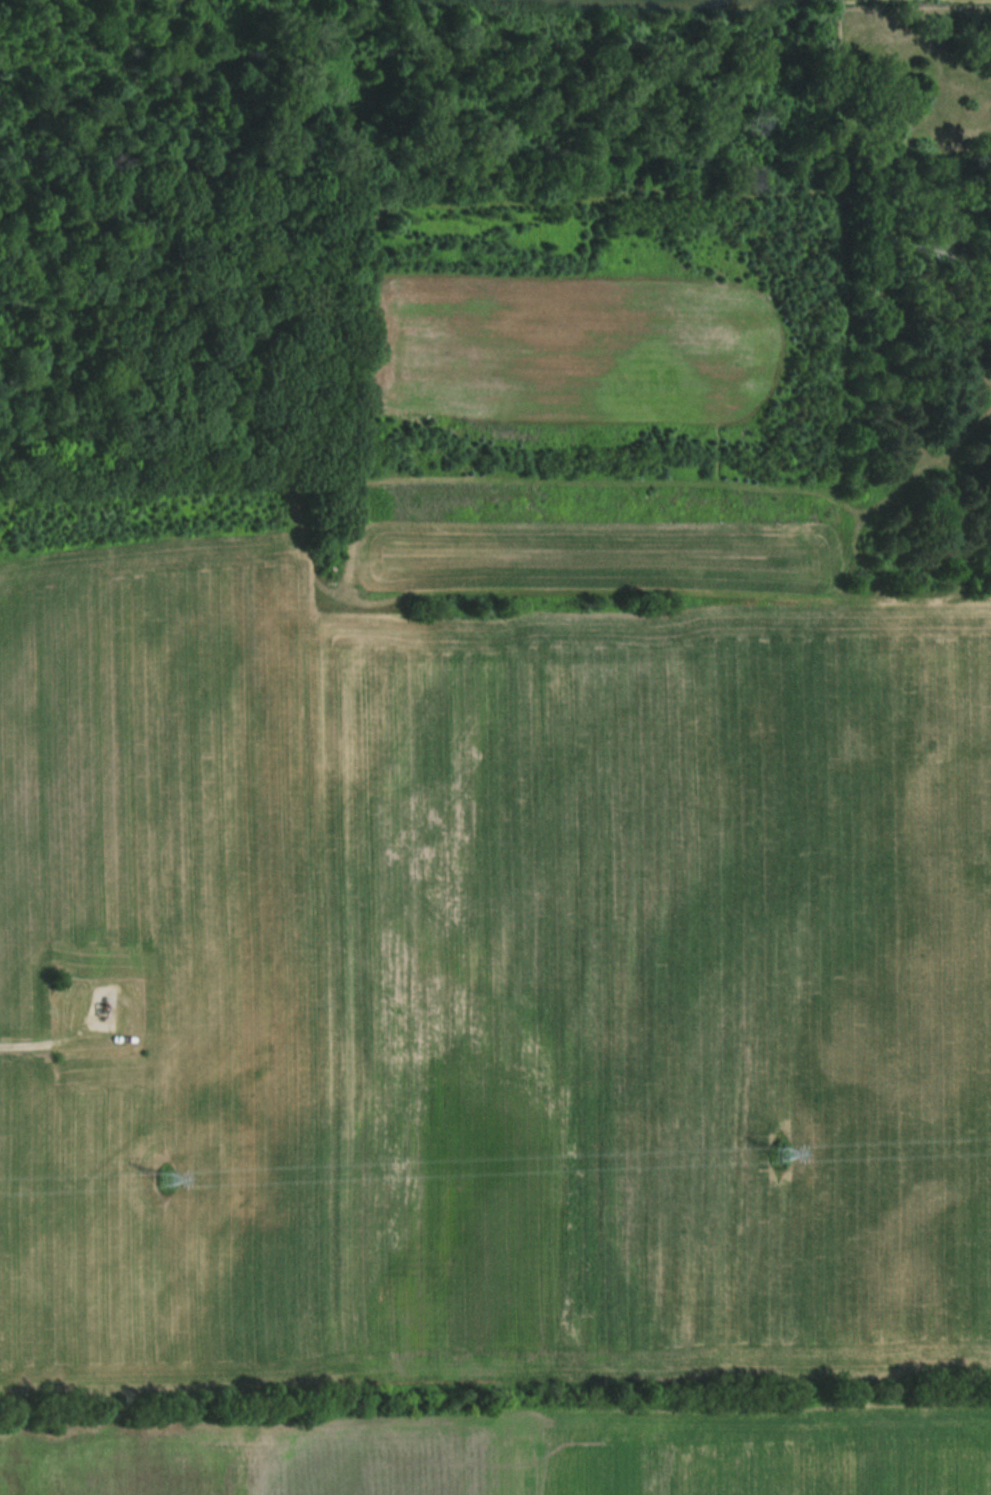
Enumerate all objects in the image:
power tower: (780, 1156)
power tower: (170, 1182)

